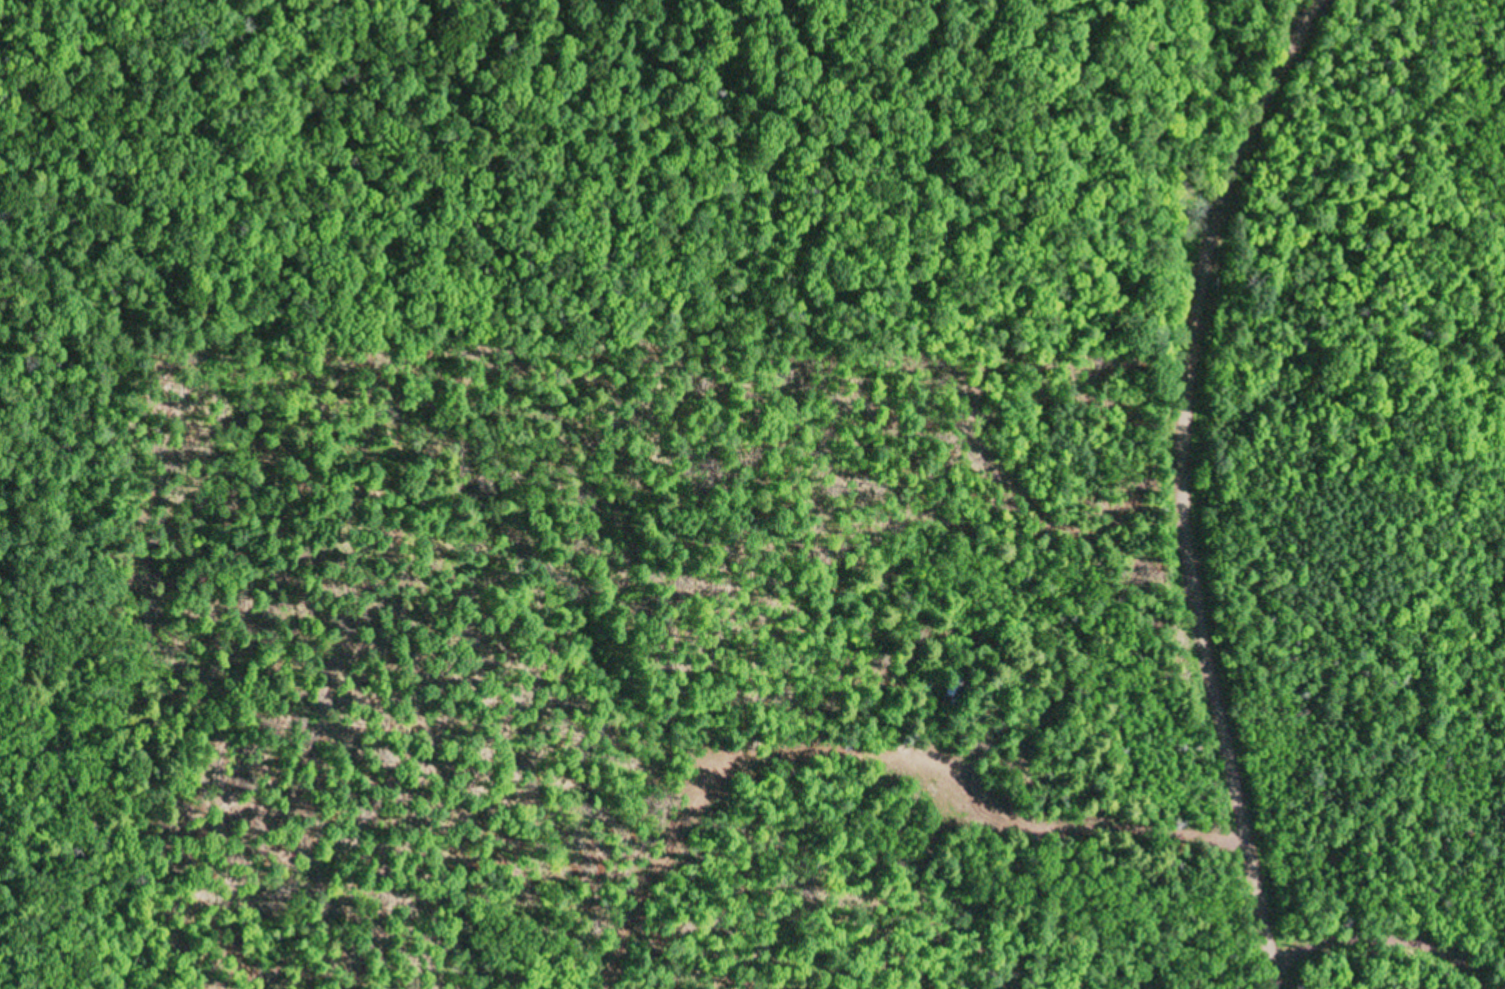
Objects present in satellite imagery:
road: (914, 54)
road: (1183, 486)
building: (952, 691)

